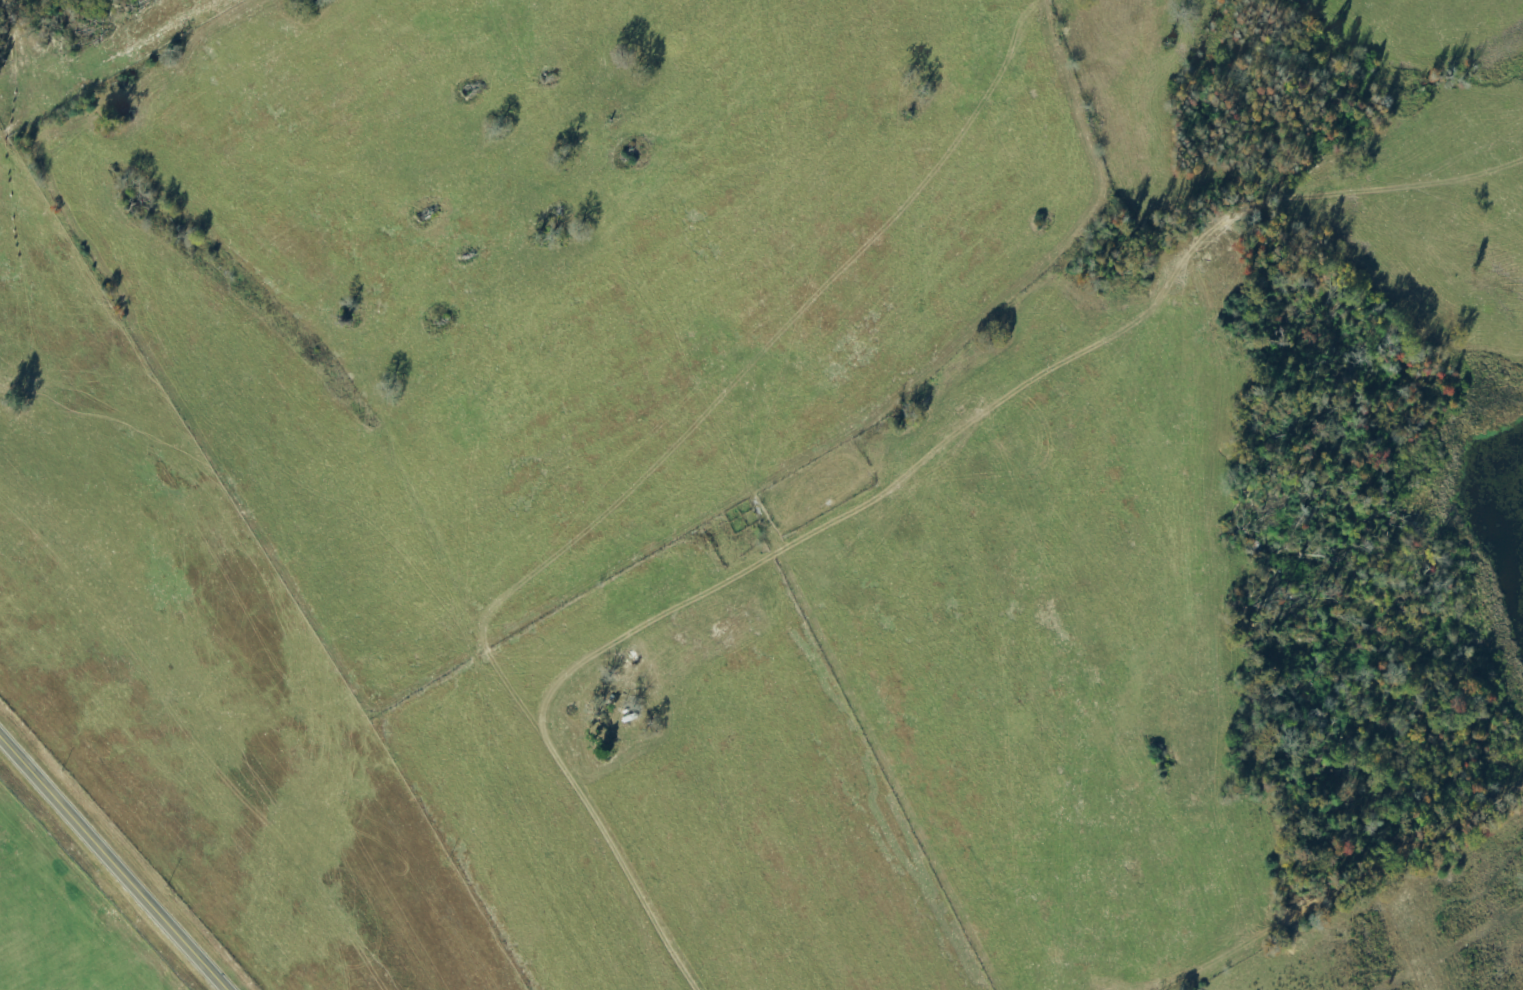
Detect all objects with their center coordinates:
road: (113, 863)

